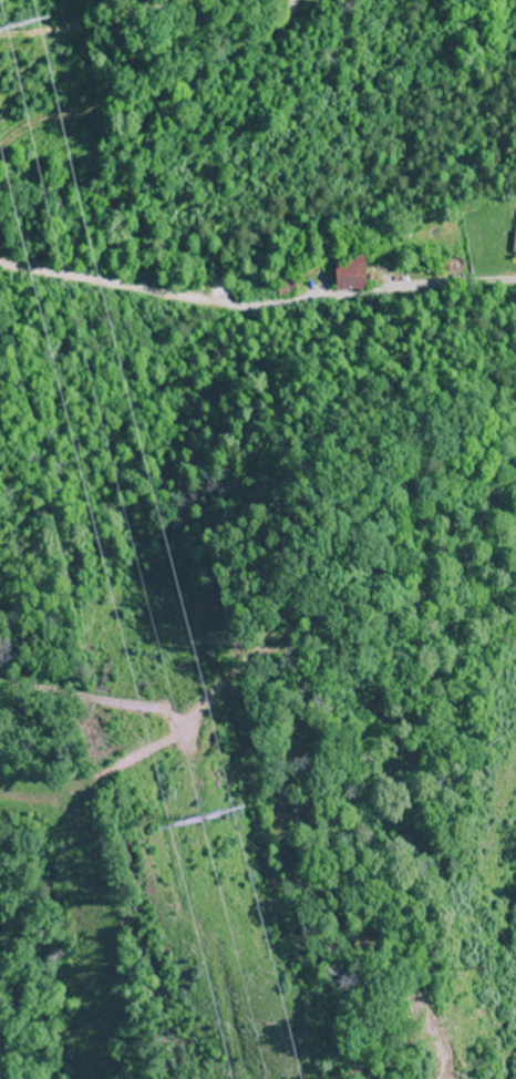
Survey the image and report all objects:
power tower: (11, 66)
building: (347, 273)
power tower: (204, 849)

